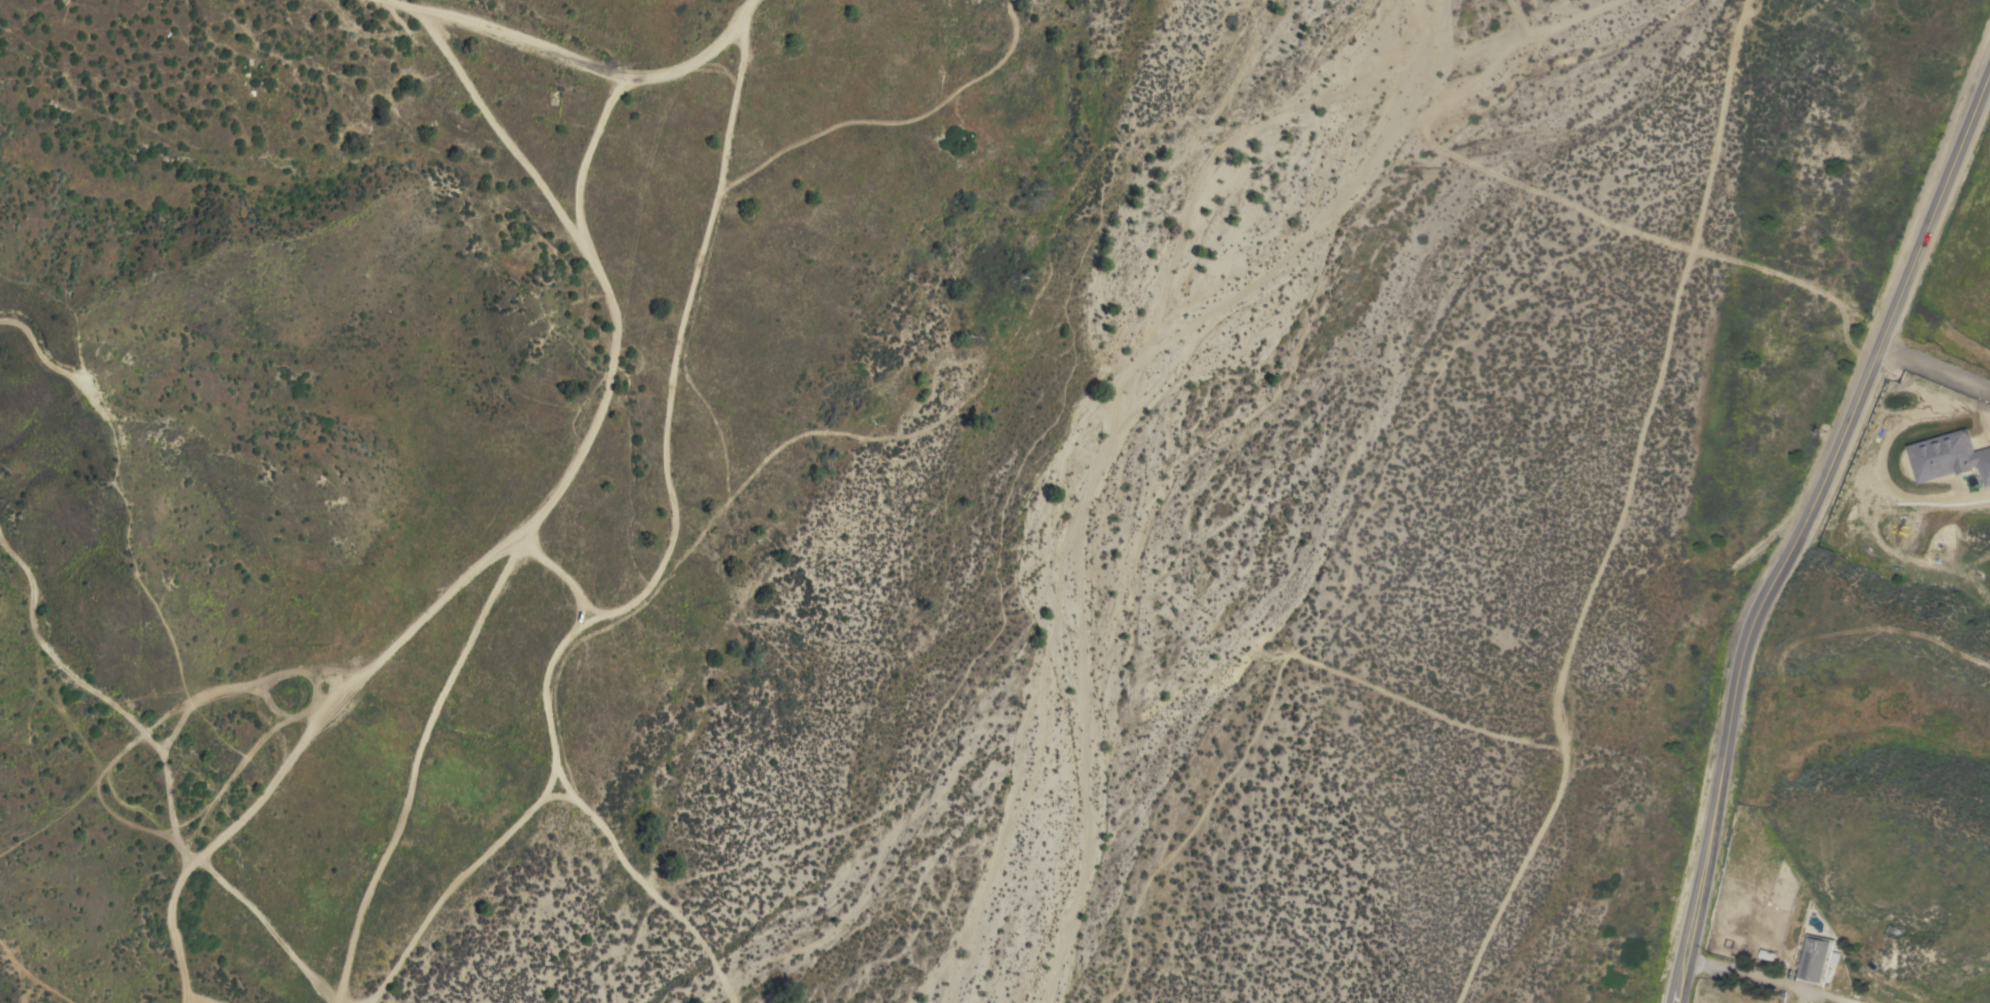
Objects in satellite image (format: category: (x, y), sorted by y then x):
road: (576, 63)
road: (882, 122)
road: (499, 132)
road: (1540, 193)
road: (683, 317)
road: (54, 367)
road: (1933, 368)
road: (1082, 496)
road: (1622, 510)
road: (530, 519)
road: (1800, 525)
road: (609, 608)
road: (151, 747)
road: (415, 748)
road: (563, 769)
road: (453, 880)
building: (1817, 960)
road: (31, 976)
road: (1769, 980)
road: (198, 1000)

